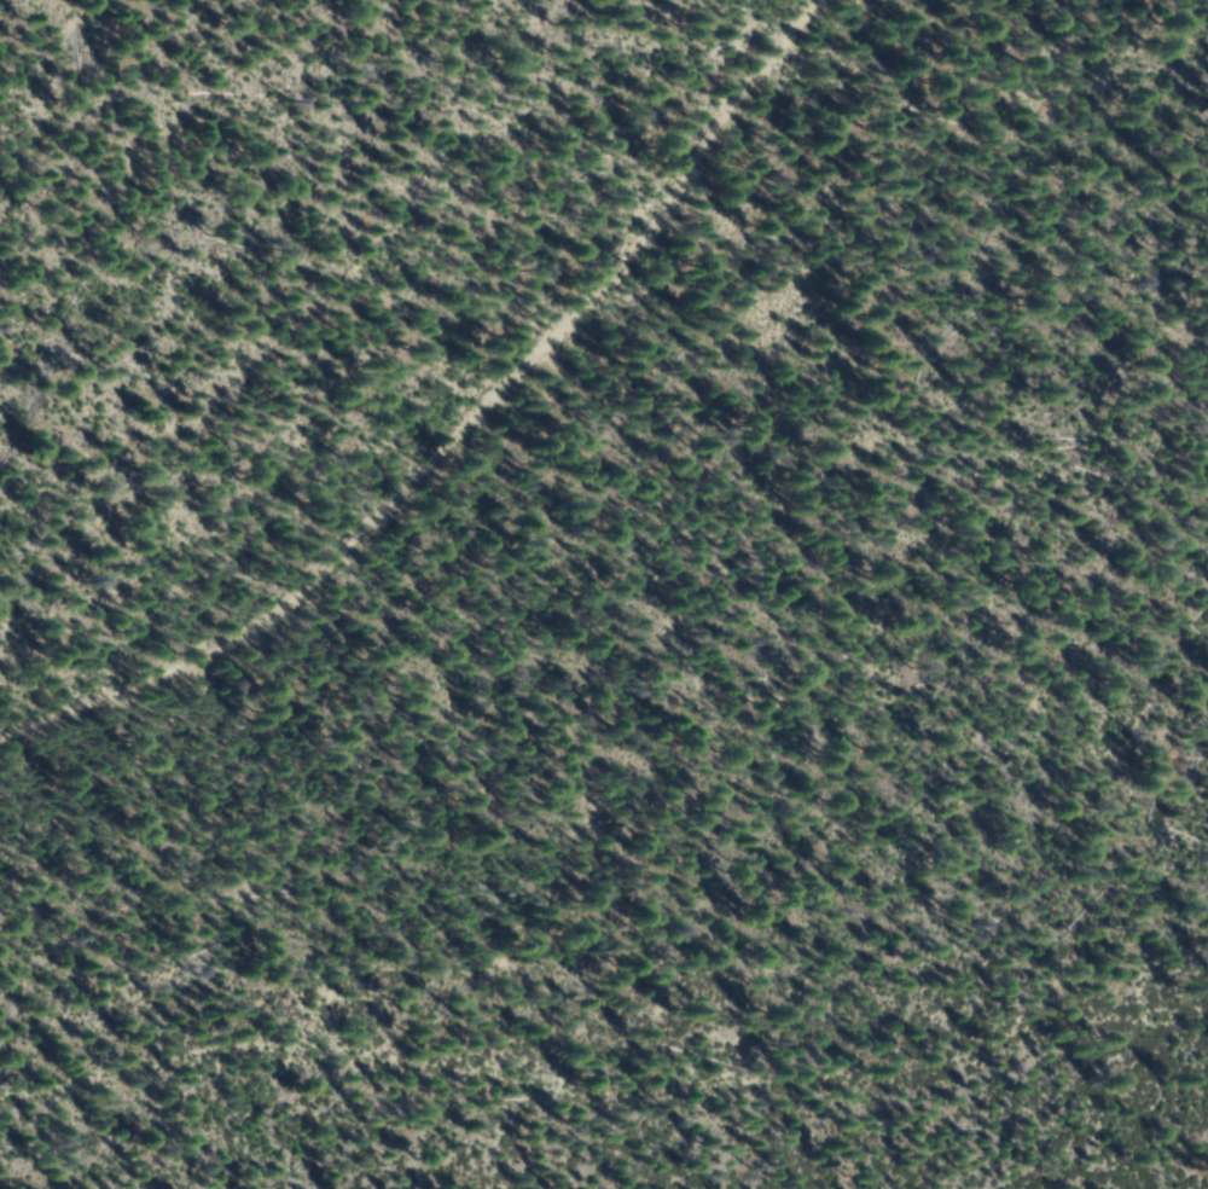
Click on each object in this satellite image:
road: (488, 446)
road: (602, 1094)

